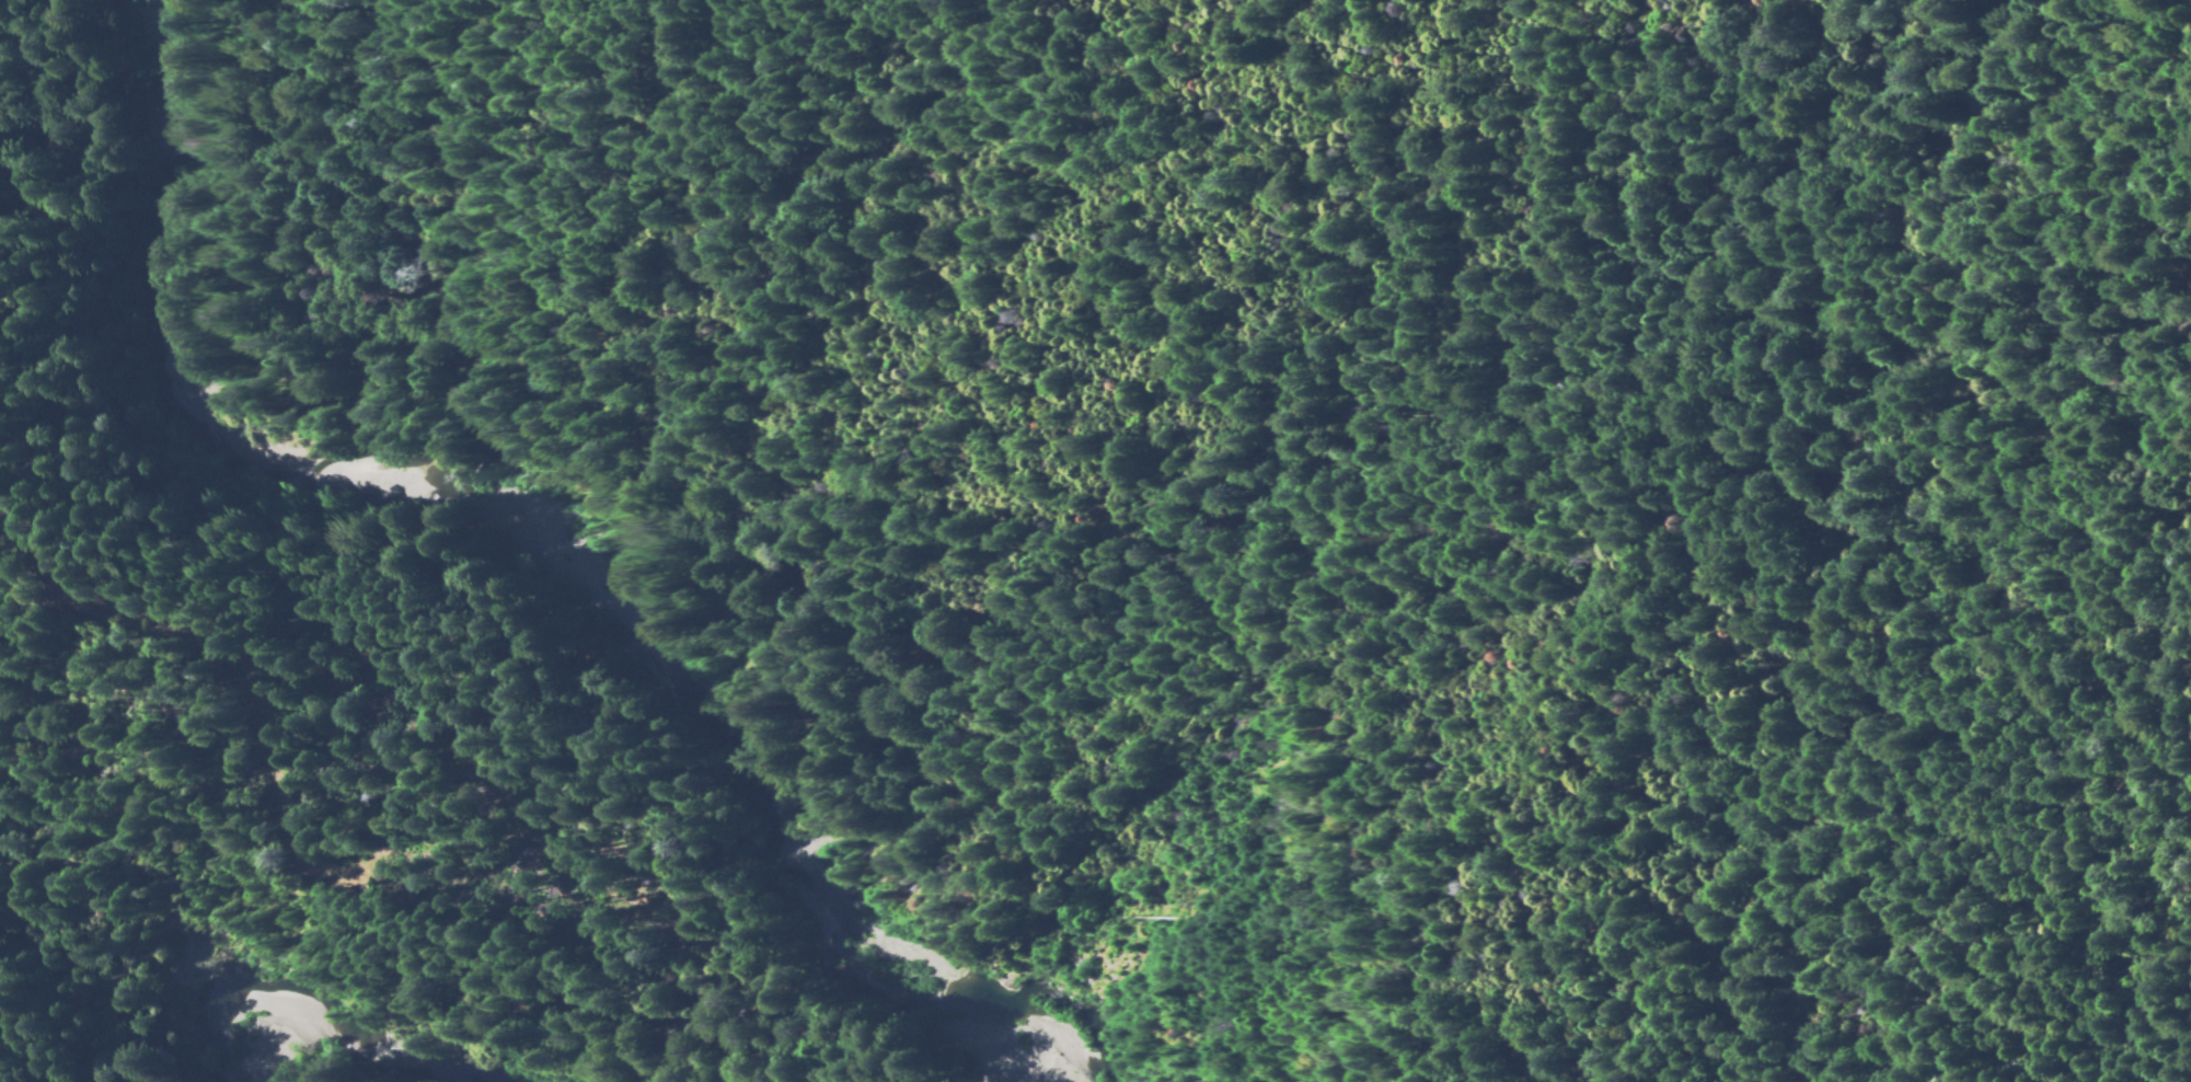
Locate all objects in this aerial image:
river: (533, 511)
river: (331, 1000)

